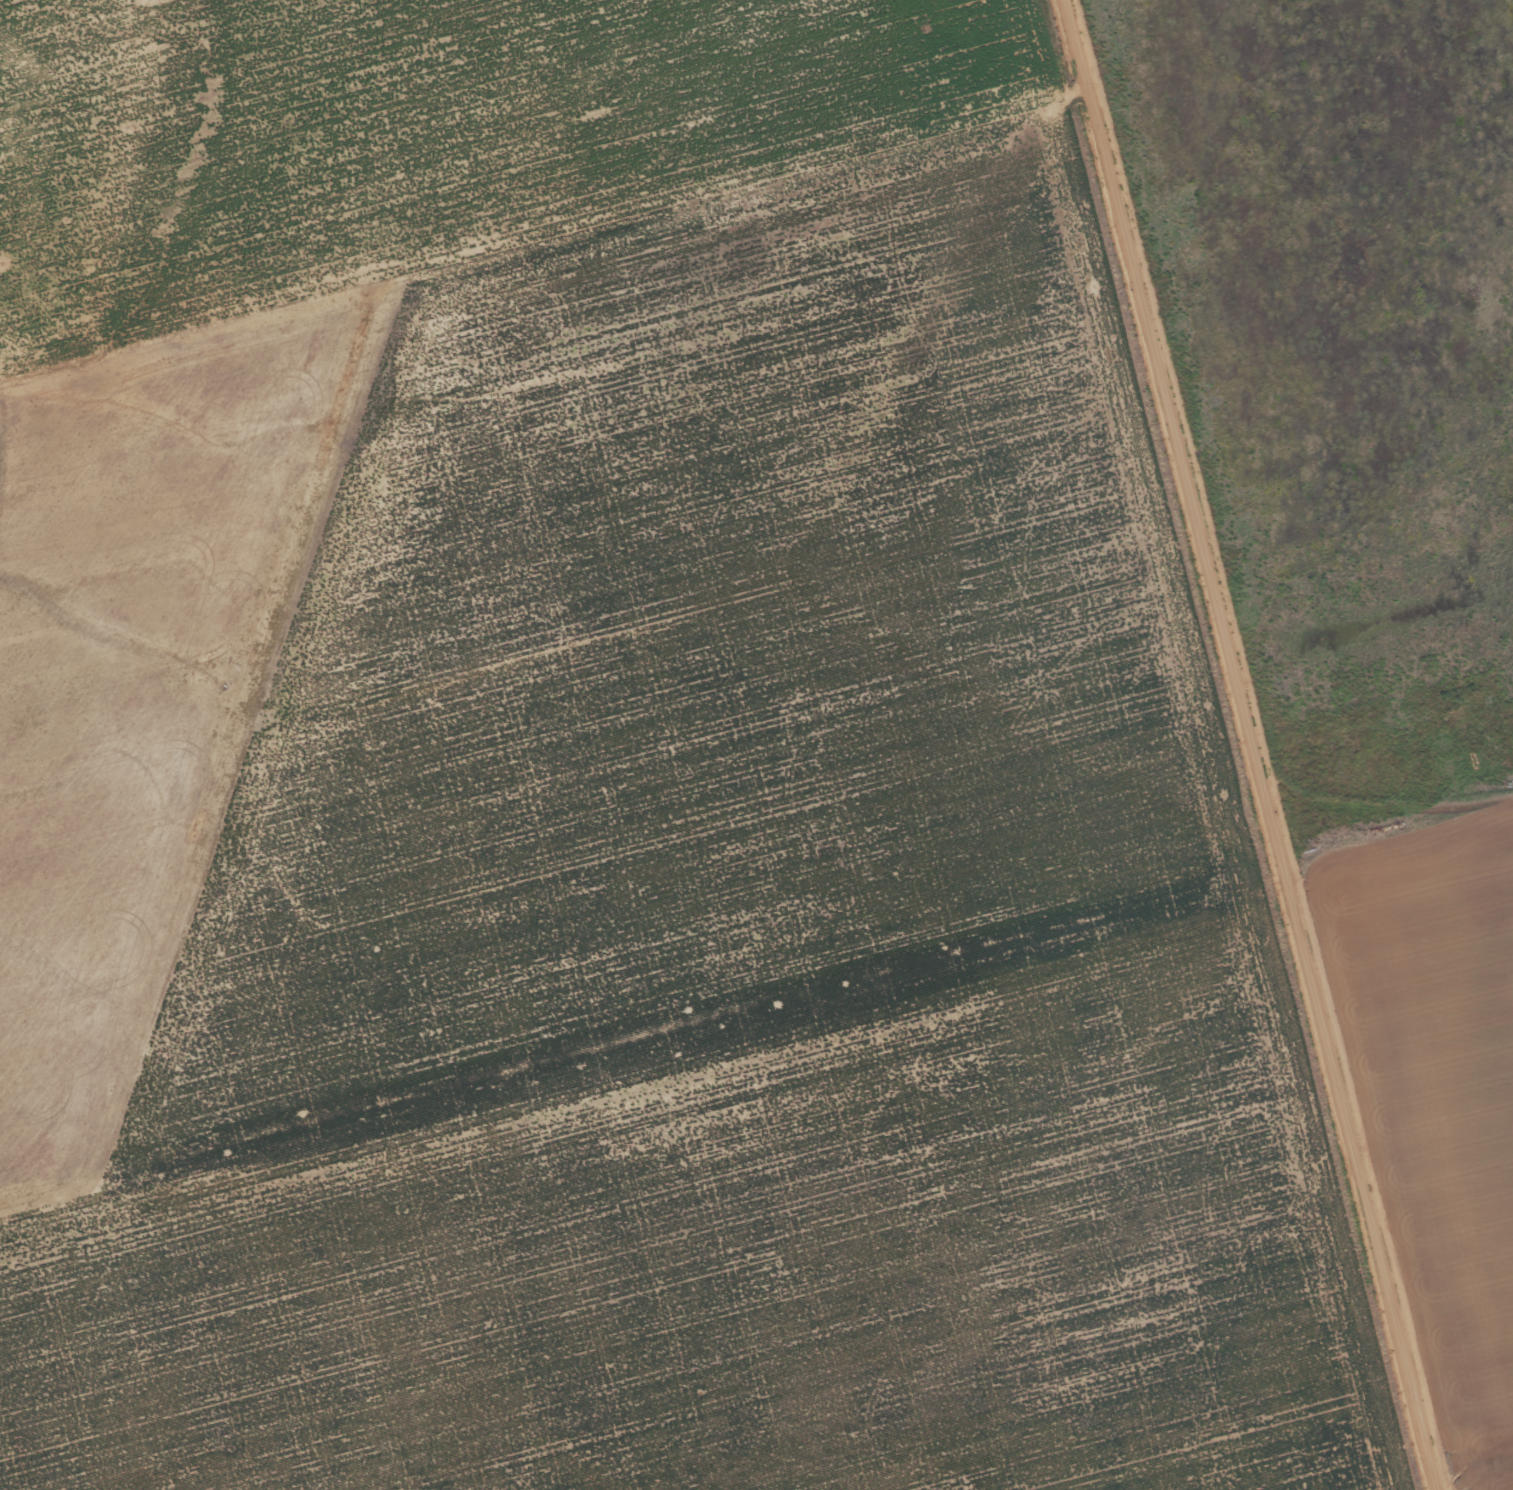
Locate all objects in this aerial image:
road: (1260, 745)

